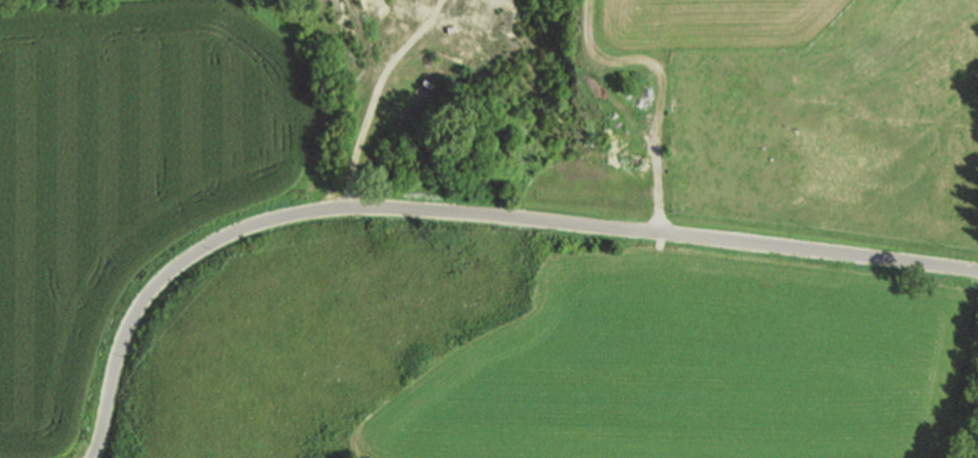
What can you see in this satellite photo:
road: (658, 90)
road: (379, 94)
quarry: (448, 103)
road: (464, 212)

